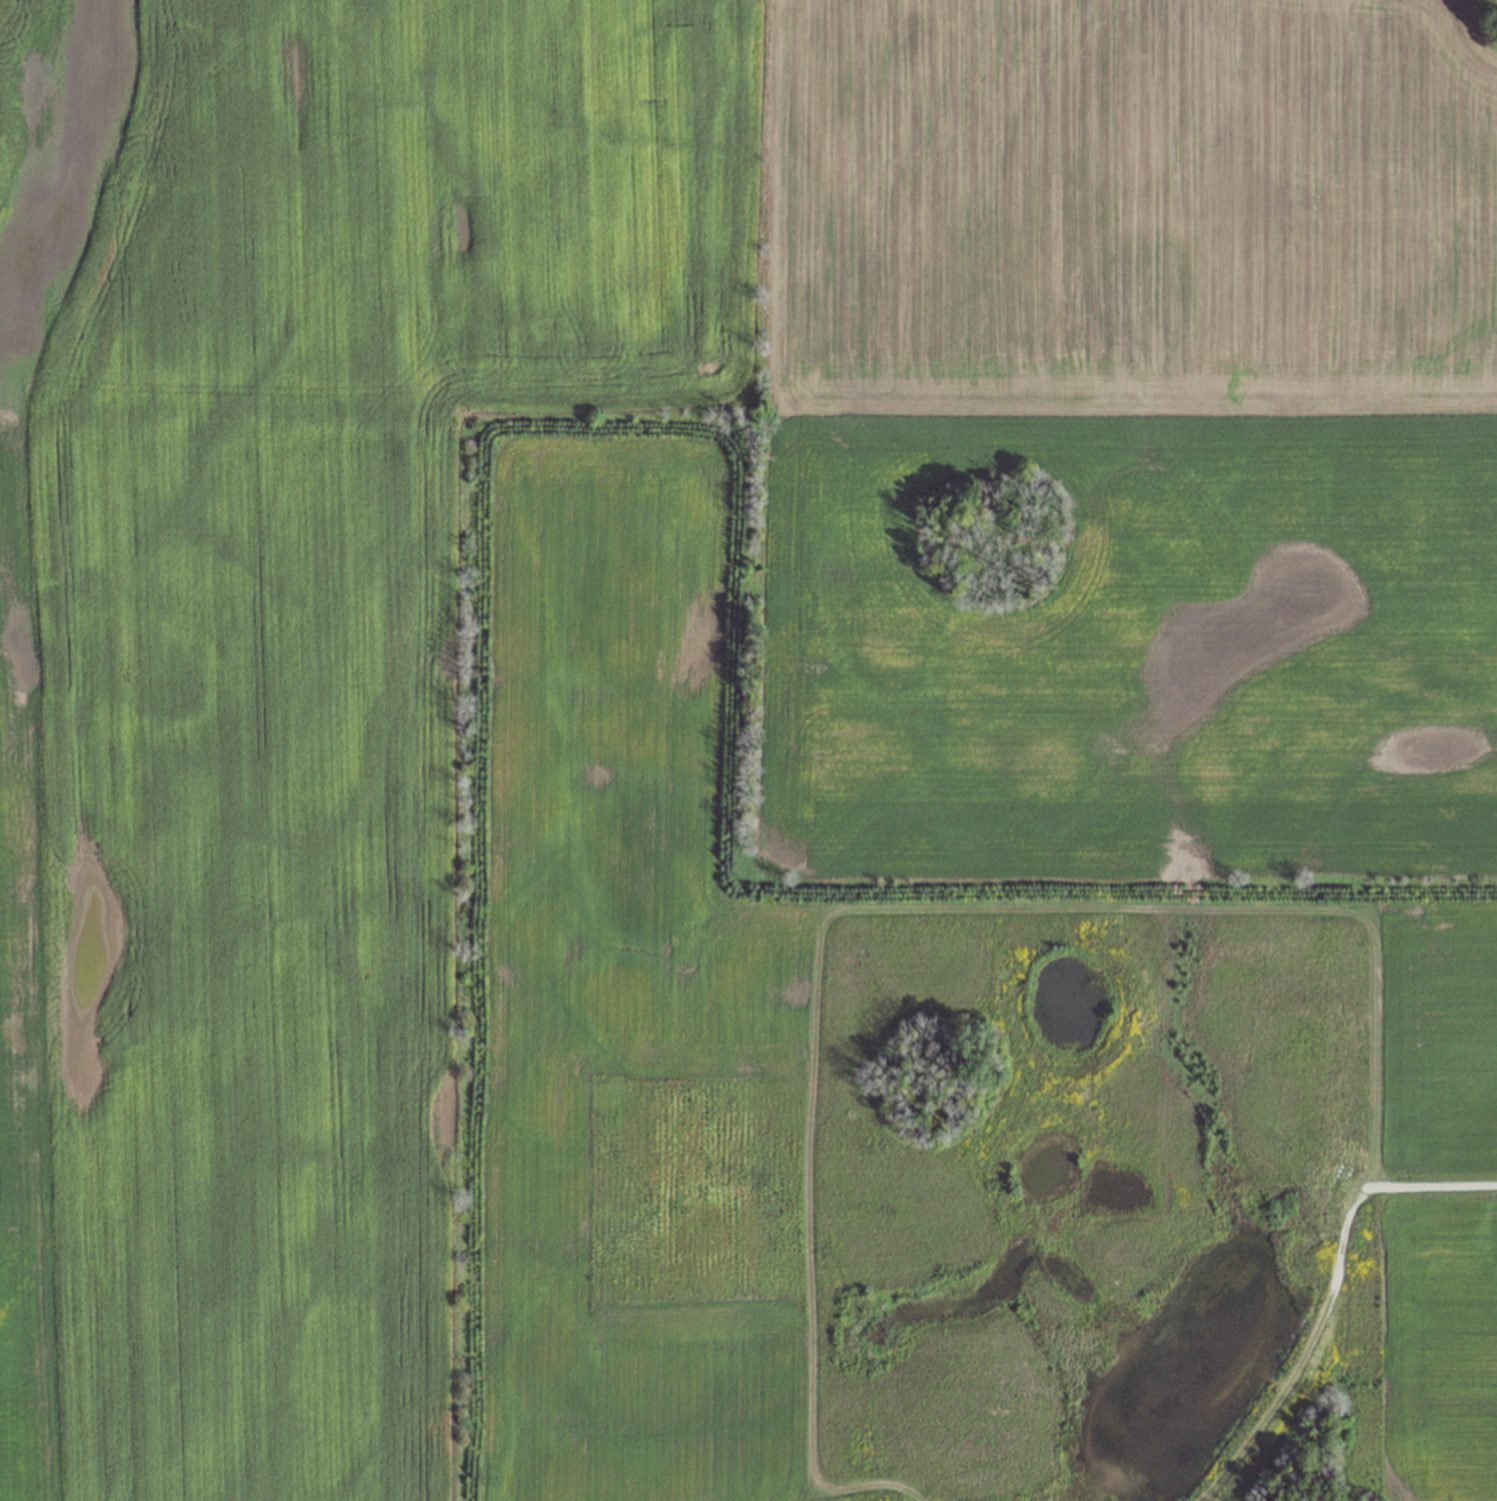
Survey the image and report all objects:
road: (1331, 1295)

